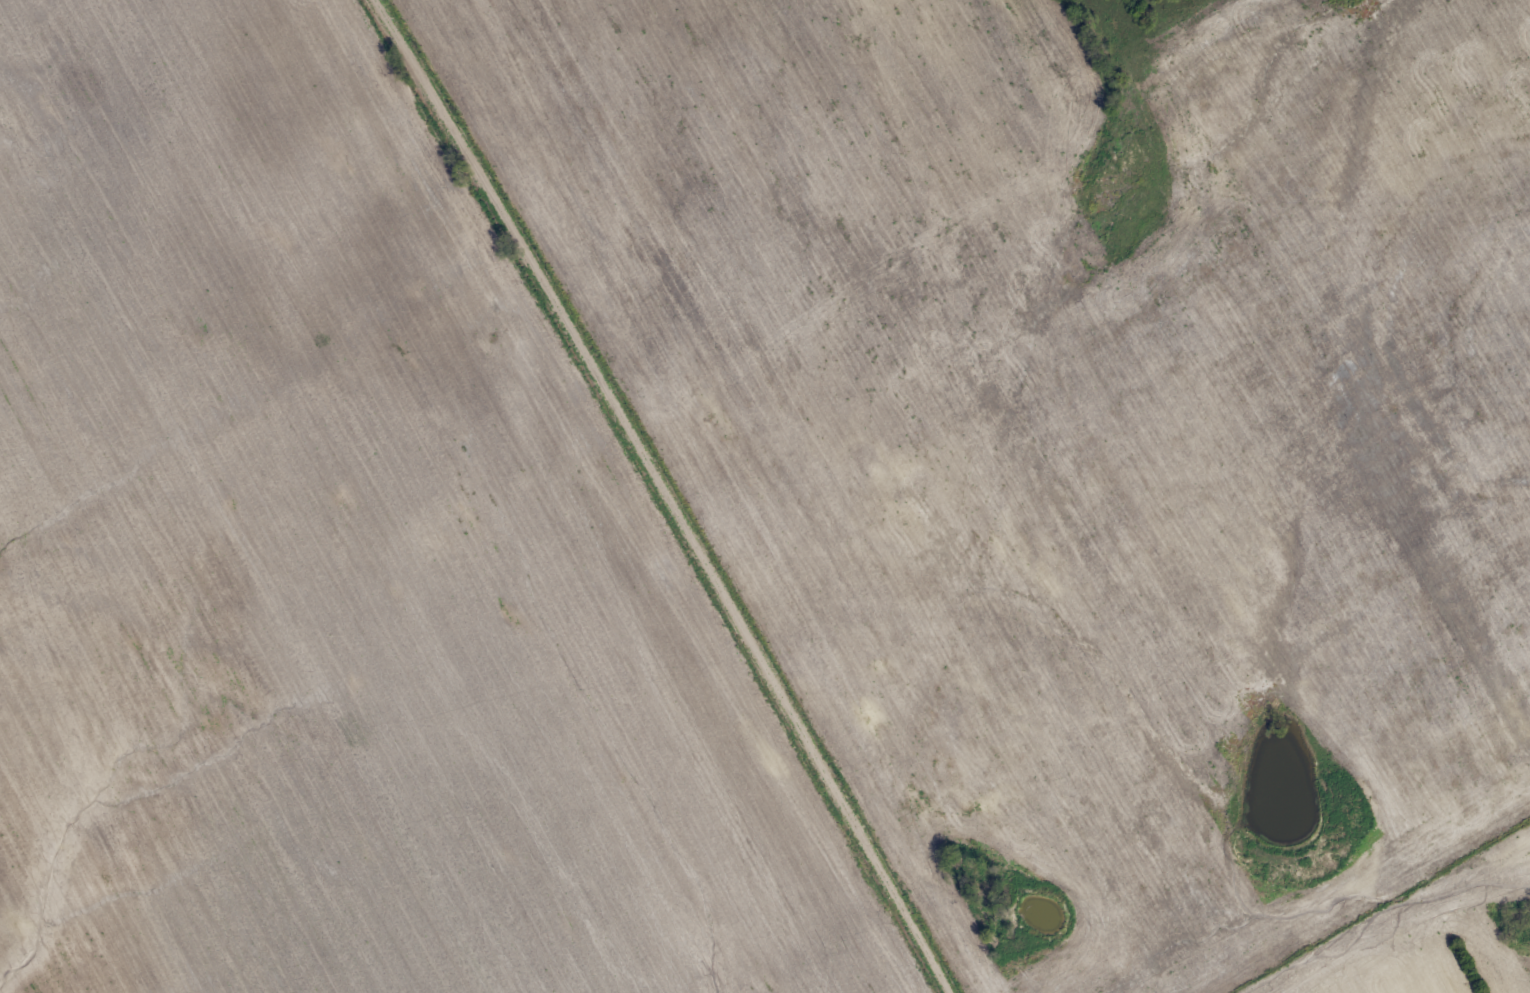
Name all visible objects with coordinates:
road: (667, 494)

